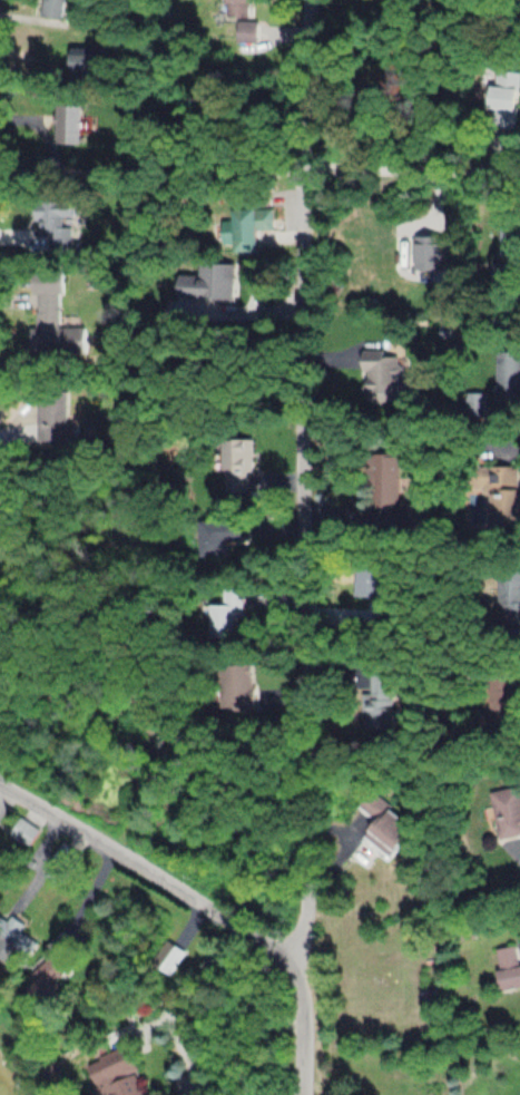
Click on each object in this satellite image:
building: (53, 9)
building: (244, 22)
building: (87, 59)
building: (504, 109)
building: (67, 124)
road: (259, 163)
building: (55, 222)
building: (246, 228)
building: (511, 241)
building: (209, 284)
building: (53, 316)
building: (508, 377)
building: (384, 378)
building: (52, 420)
building: (238, 466)
building: (393, 485)
building: (507, 500)
building: (416, 519)
building: (222, 536)
road: (296, 548)
building: (509, 595)
building: (226, 613)
building: (236, 685)
building: (381, 701)
building: (507, 812)
building: (387, 822)
building: (23, 832)
building: (63, 859)
road: (151, 877)
building: (14, 940)
building: (167, 957)
building: (508, 968)
building: (47, 984)
building: (116, 1074)

